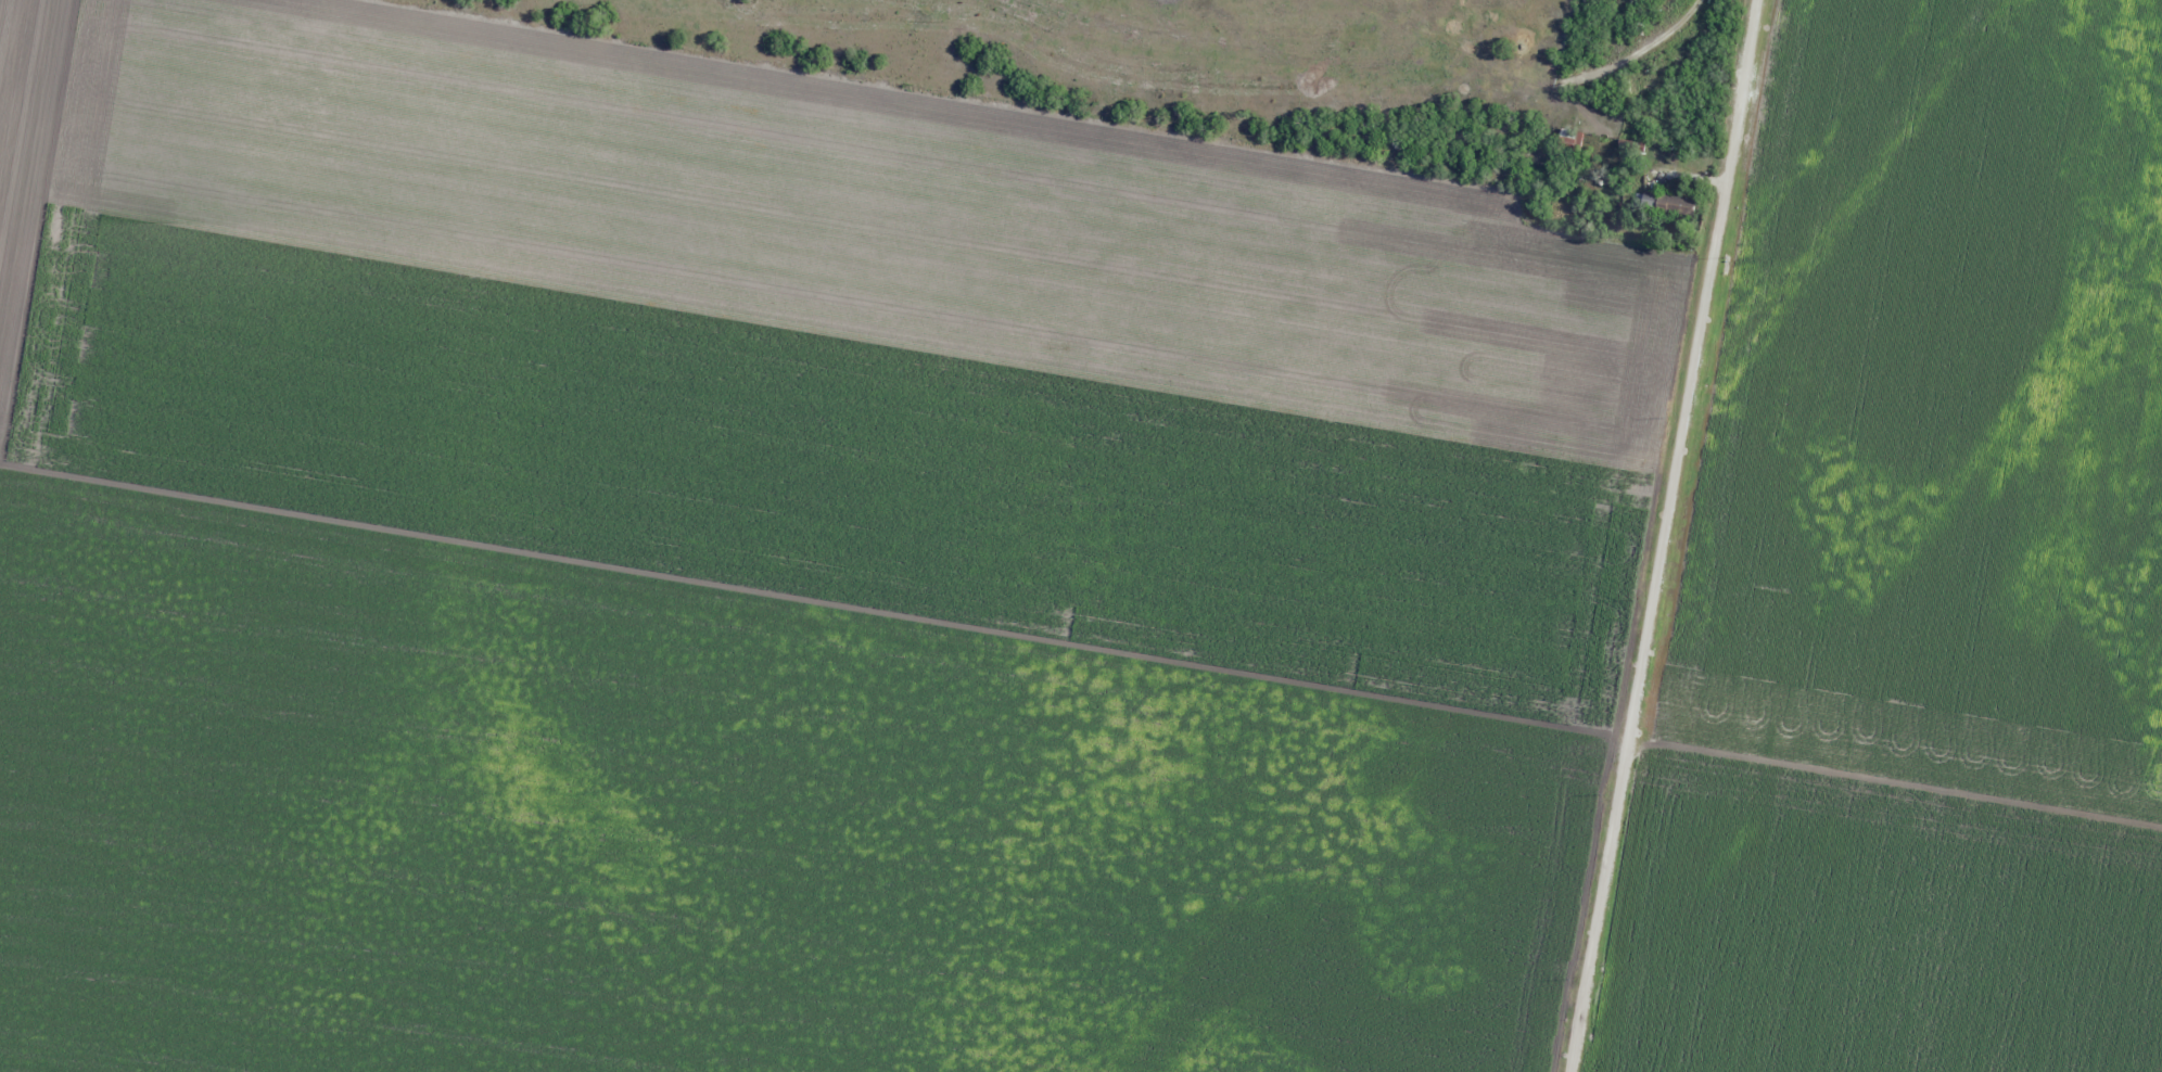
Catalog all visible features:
building: (1568, 139)
building: (1665, 203)
road: (1667, 536)

